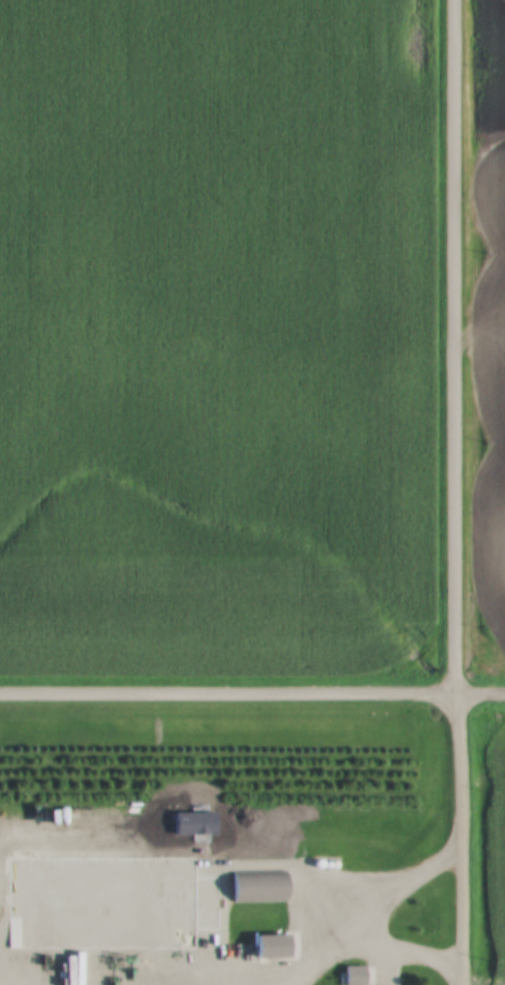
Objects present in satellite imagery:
road: (458, 492)
road: (252, 695)
building: (179, 890)
road: (372, 911)
building: (274, 947)
building: (355, 975)

